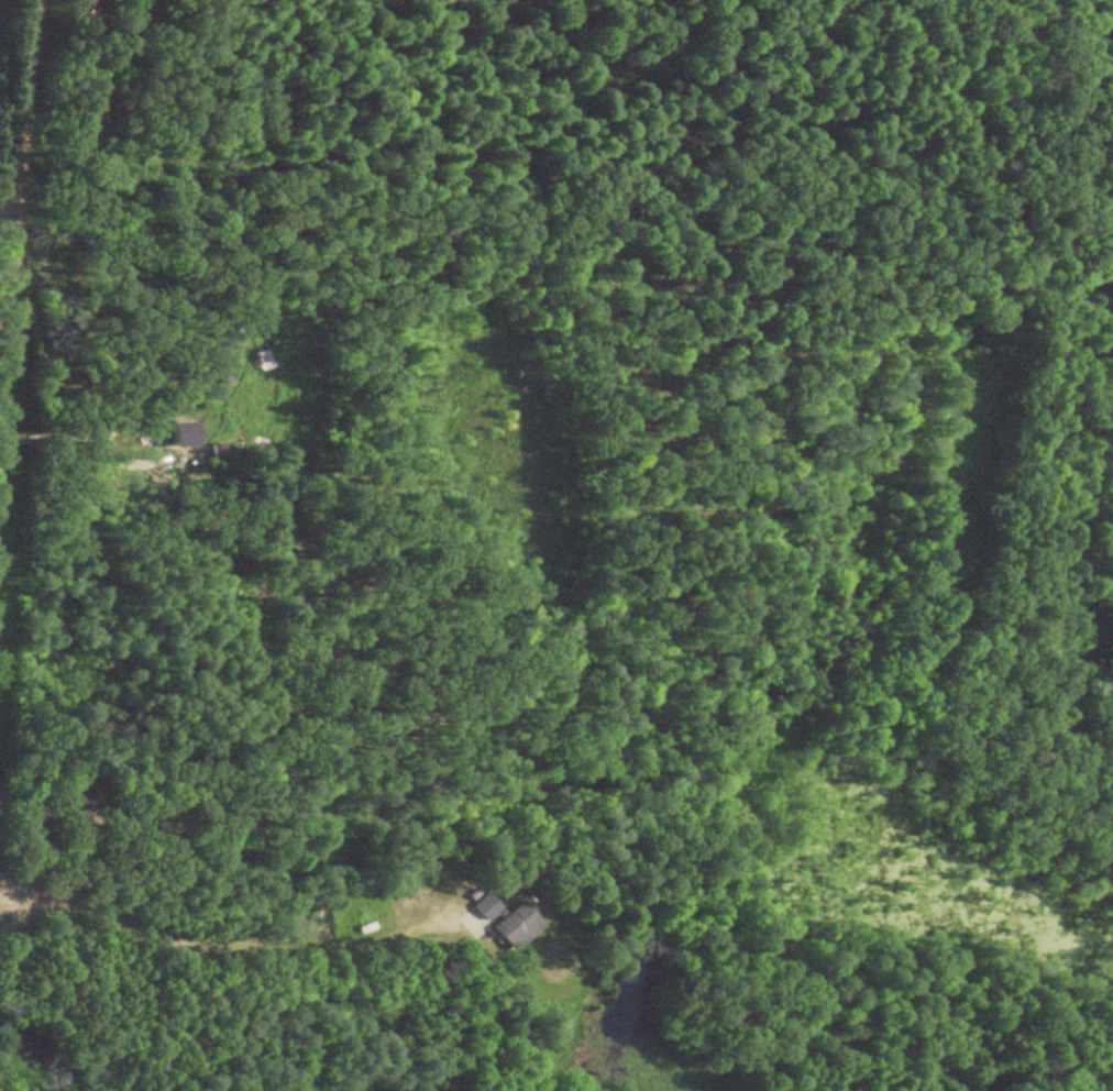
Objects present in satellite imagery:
road: (10, 202)
road: (19, 203)
road: (67, 434)
building: (482, 906)
building: (509, 926)
road: (192, 940)

